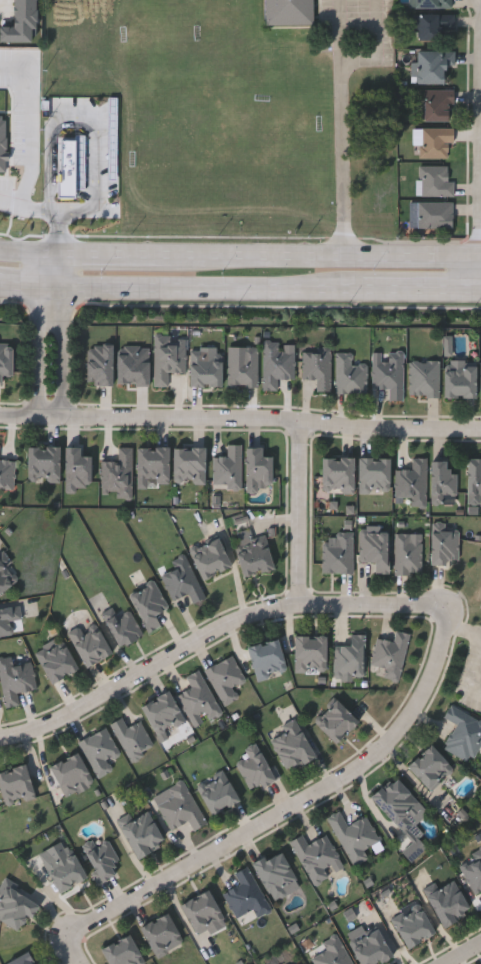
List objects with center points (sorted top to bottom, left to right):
building: (430, 4)
building: (289, 12)
building: (431, 25)
road: (347, 32)
road: (383, 44)
building: (431, 64)
building: (438, 103)
road: (95, 118)
building: (32, 126)
building: (2, 133)
road: (31, 136)
building: (435, 142)
road: (350, 161)
building: (71, 165)
building: (435, 180)
building: (12, 182)
road: (45, 212)
building: (435, 213)
road: (27, 253)
road: (110, 256)
road: (323, 258)
road: (21, 286)
road: (202, 290)
road: (422, 293)
road: (42, 335)
road: (63, 336)
building: (205, 365)
building: (277, 365)
building: (244, 368)
building: (318, 368)
building: (350, 374)
building: (389, 375)
building: (424, 377)
building: (460, 377)
road: (21, 416)
road: (261, 421)
building: (44, 463)
building: (189, 463)
building: (229, 467)
building: (257, 467)
building: (7, 473)
building: (338, 473)
building: (374, 473)
building: (473, 478)
building: (442, 480)
building: (413, 481)
road: (300, 513)
building: (445, 545)
building: (375, 549)
building: (254, 552)
building: (338, 552)
building: (409, 552)
building: (210, 557)
building: (5, 576)
building: (183, 580)
building: (149, 604)
building: (9, 617)
building: (122, 624)
road: (212, 632)
building: (90, 642)
building: (310, 652)
building: (391, 654)
building: (267, 658)
building: (350, 658)
building: (57, 660)
building: (226, 677)
building: (17, 679)
building: (198, 699)
building: (163, 713)
building: (336, 720)
building: (463, 732)
building: (132, 735)
building: (291, 744)
building: (100, 750)
building: (256, 766)
building: (430, 766)
building: (71, 773)
building: (16, 784)
building: (217, 793)
building: (399, 803)
building: (179, 805)
road: (297, 805)
building: (143, 833)
building: (354, 835)
building: (315, 854)
building: (101, 857)
building: (472, 868)
building: (65, 869)
building: (275, 873)
building: (246, 894)
building: (448, 901)
building: (16, 904)
building: (202, 911)
building: (413, 925)
building: (162, 932)
building: (369, 946)
building: (123, 951)
road: (79, 952)
building: (334, 953)
road: (462, 953)
building: (23, 959)

